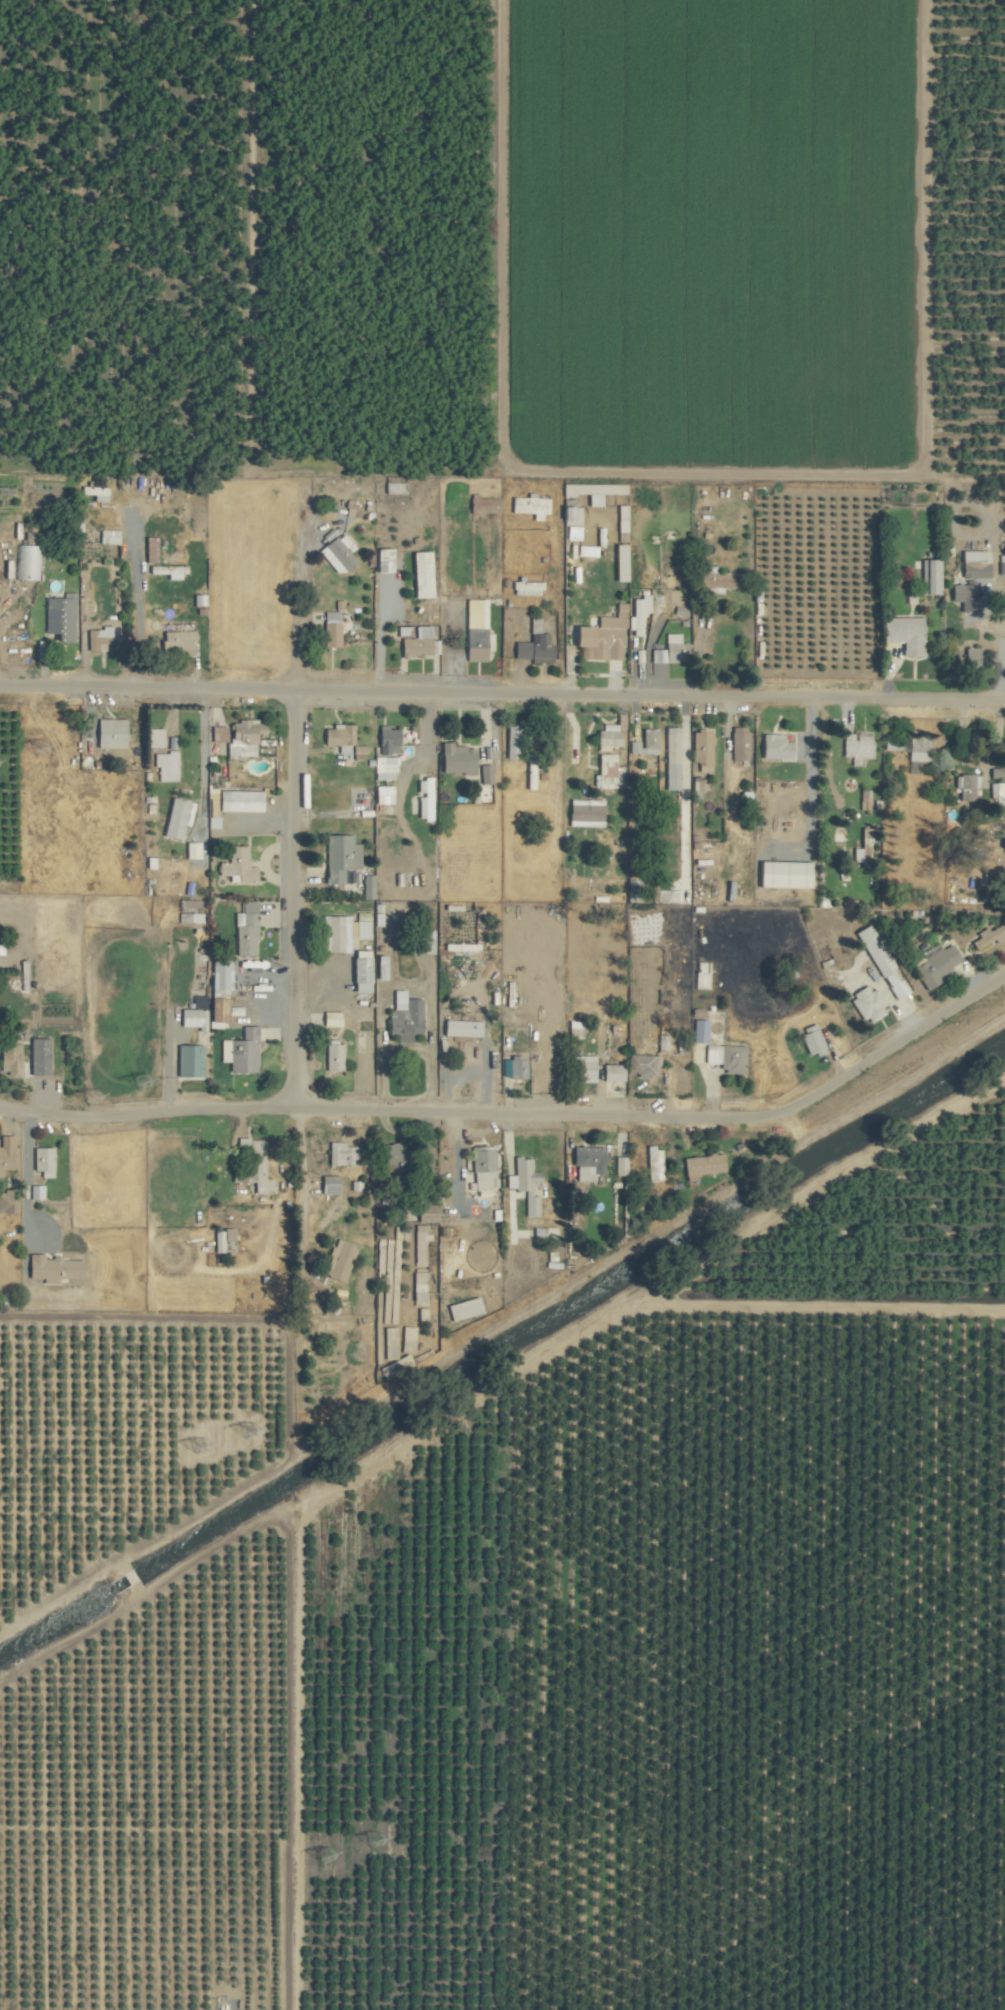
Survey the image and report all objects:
building: (607, 490)
building: (93, 493)
building: (484, 504)
building: (528, 507)
building: (569, 517)
building: (570, 534)
building: (106, 538)
building: (148, 550)
building: (335, 554)
building: (381, 561)
building: (27, 563)
building: (973, 564)
building: (166, 572)
building: (419, 576)
building: (928, 577)
building: (718, 580)
building: (962, 596)
building: (83, 607)
building: (636, 615)
building: (58, 618)
building: (329, 630)
building: (901, 635)
building: (600, 637)
building: (174, 639)
building: (96, 640)
building: (415, 644)
building: (532, 646)
building: (667, 651)
road: (1000, 652)
building: (969, 659)
road: (502, 691)
building: (108, 733)
building: (217, 733)
building: (336, 736)
building: (241, 737)
building: (607, 737)
building: (153, 738)
building: (386, 740)
building: (510, 740)
building: (643, 742)
building: (736, 743)
power tower: (38, 746)
building: (772, 746)
building: (855, 746)
building: (917, 748)
building: (701, 751)
building: (669, 758)
building: (454, 759)
building: (164, 766)
building: (383, 768)
building: (607, 772)
building: (483, 774)
building: (965, 786)
building: (381, 795)
building: (422, 799)
building: (238, 801)
building: (582, 812)
building: (174, 818)
building: (190, 850)
building: (338, 857)
building: (235, 866)
building: (781, 874)
building: (365, 886)
road: (293, 889)
building: (188, 912)
building: (244, 929)
building: (339, 933)
building: (988, 935)
building: (423, 941)
building: (458, 947)
building: (880, 962)
building: (934, 966)
building: (358, 971)
building: (865, 1003)
crop: (502, 1005)
building: (403, 1018)
building: (459, 1028)
building: (573, 1028)
building: (698, 1031)
building: (809, 1038)
road: (886, 1039)
building: (660, 1043)
building: (238, 1052)
building: (37, 1056)
building: (331, 1057)
building: (724, 1058)
building: (8, 1059)
building: (187, 1060)
building: (640, 1065)
building: (582, 1069)
building: (610, 1072)
power tower: (138, 1078)
power tower: (91, 1094)
road: (383, 1110)
building: (4, 1152)
building: (339, 1154)
building: (394, 1158)
building: (41, 1161)
building: (585, 1163)
building: (254, 1164)
building: (653, 1164)
building: (618, 1166)
building: (700, 1166)
building: (481, 1168)
building: (327, 1184)
building: (523, 1184)
building: (34, 1192)
building: (6, 1201)
building: (220, 1238)
building: (419, 1257)
building: (337, 1261)
building: (50, 1269)
power tower: (247, 1427)
power tower: (201, 1446)
power tower: (378, 1842)
power tower: (331, 1858)

